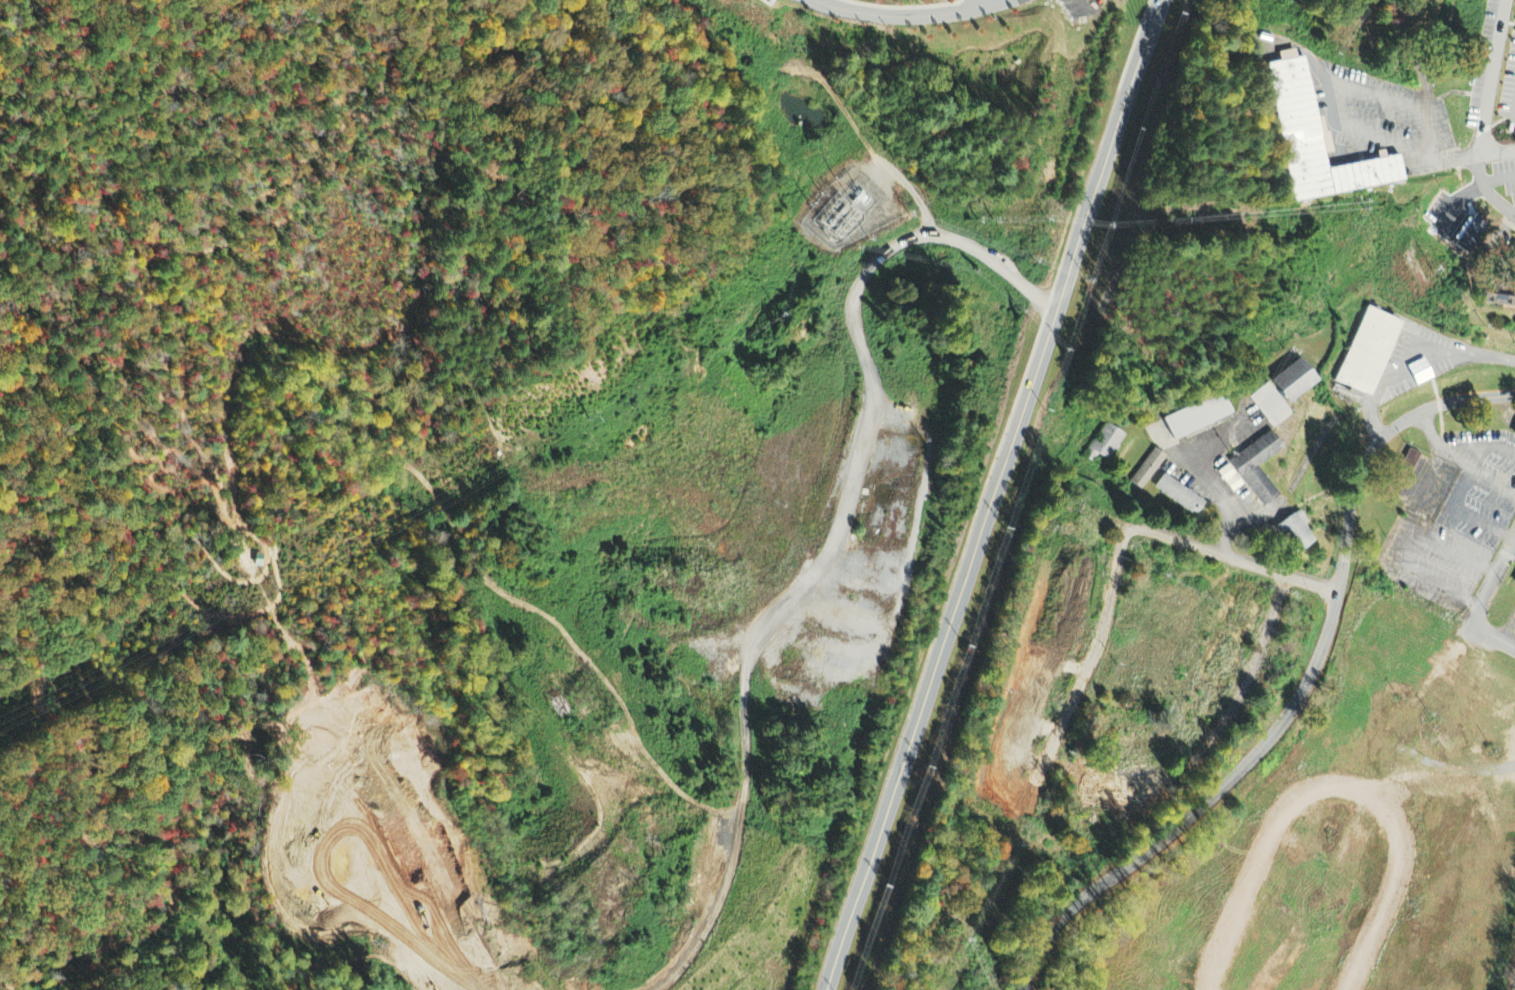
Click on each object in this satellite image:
road: (0, 0)
road: (11, 13)
road: (905, 14)
road: (204, 38)
road: (105, 55)
road: (1491, 76)
road: (1425, 80)
building: (1318, 141)
road: (1481, 155)
power substation: (850, 207)
building: (1470, 235)
road: (205, 253)
building: (1493, 298)
building: (1370, 353)
building: (1280, 394)
building: (1198, 417)
building: (1513, 427)
building: (1514, 437)
building: (1106, 445)
building: (1148, 470)
building: (1256, 470)
building: (1229, 479)
road: (994, 495)
building: (1180, 496)
road: (103, 509)
building: (1294, 533)
road: (1123, 543)
road: (0, 565)
building: (1514, 579)
road: (1492, 582)
road: (1492, 636)
road: (1301, 691)
road: (1235, 709)

